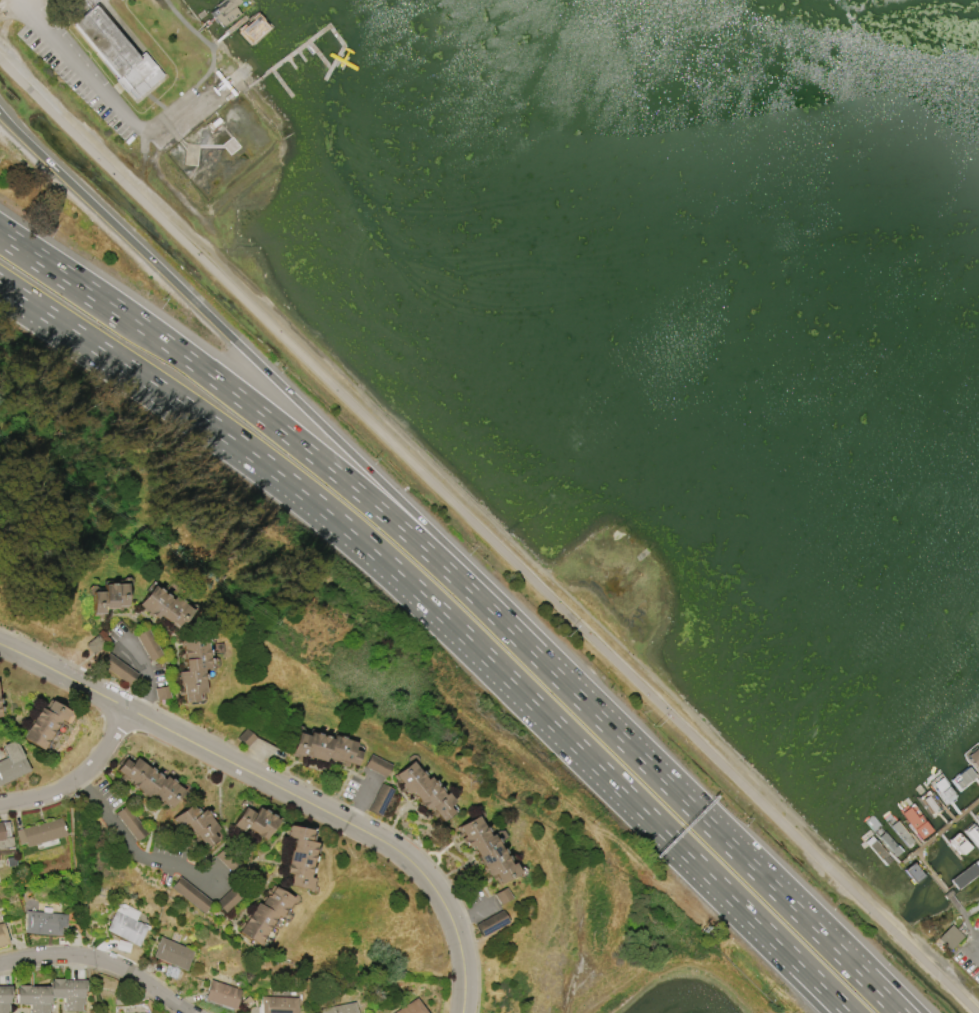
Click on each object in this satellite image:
building: (91, 1)
road: (192, 28)
pier: (234, 30)
pier: (307, 46)
building: (117, 53)
road: (88, 73)
helipad: (231, 146)
road: (93, 296)
road: (50, 315)
road: (49, 331)
road: (272, 377)
road: (365, 498)
road: (488, 537)
building: (109, 597)
building: (164, 606)
road: (456, 625)
building: (148, 645)
building: (194, 668)
building: (120, 670)
road: (153, 675)
building: (162, 693)
building: (43, 724)
building: (325, 748)
building: (974, 756)
road: (640, 759)
building: (11, 762)
building: (377, 766)
road: (80, 779)
building: (964, 779)
building: (150, 782)
road: (280, 788)
building: (942, 790)
building: (424, 791)
building: (380, 799)
road: (360, 800)
building: (930, 804)
building: (977, 814)
road: (73, 816)
building: (977, 817)
building: (254, 822)
building: (131, 823)
building: (197, 823)
building: (900, 831)
building: (40, 832)
building: (972, 833)
building: (4, 839)
building: (887, 841)
building: (958, 844)
building: (486, 850)
building: (878, 850)
road: (136, 852)
pier: (918, 852)
building: (300, 857)
road: (78, 865)
building: (913, 873)
building: (964, 875)
building: (190, 895)
road: (82, 896)
building: (230, 897)
road: (474, 912)
building: (265, 914)
building: (44, 922)
building: (491, 923)
road: (85, 924)
building: (126, 924)
building: (2, 934)
building: (949, 937)
road: (823, 939)
road: (833, 939)
building: (172, 954)
road: (87, 955)
road: (101, 961)
road: (806, 977)
road: (814, 977)
building: (221, 994)
building: (52, 995)
building: (4, 998)
road: (93, 999)
building: (278, 1004)
building: (339, 1008)
building: (412, 1008)

